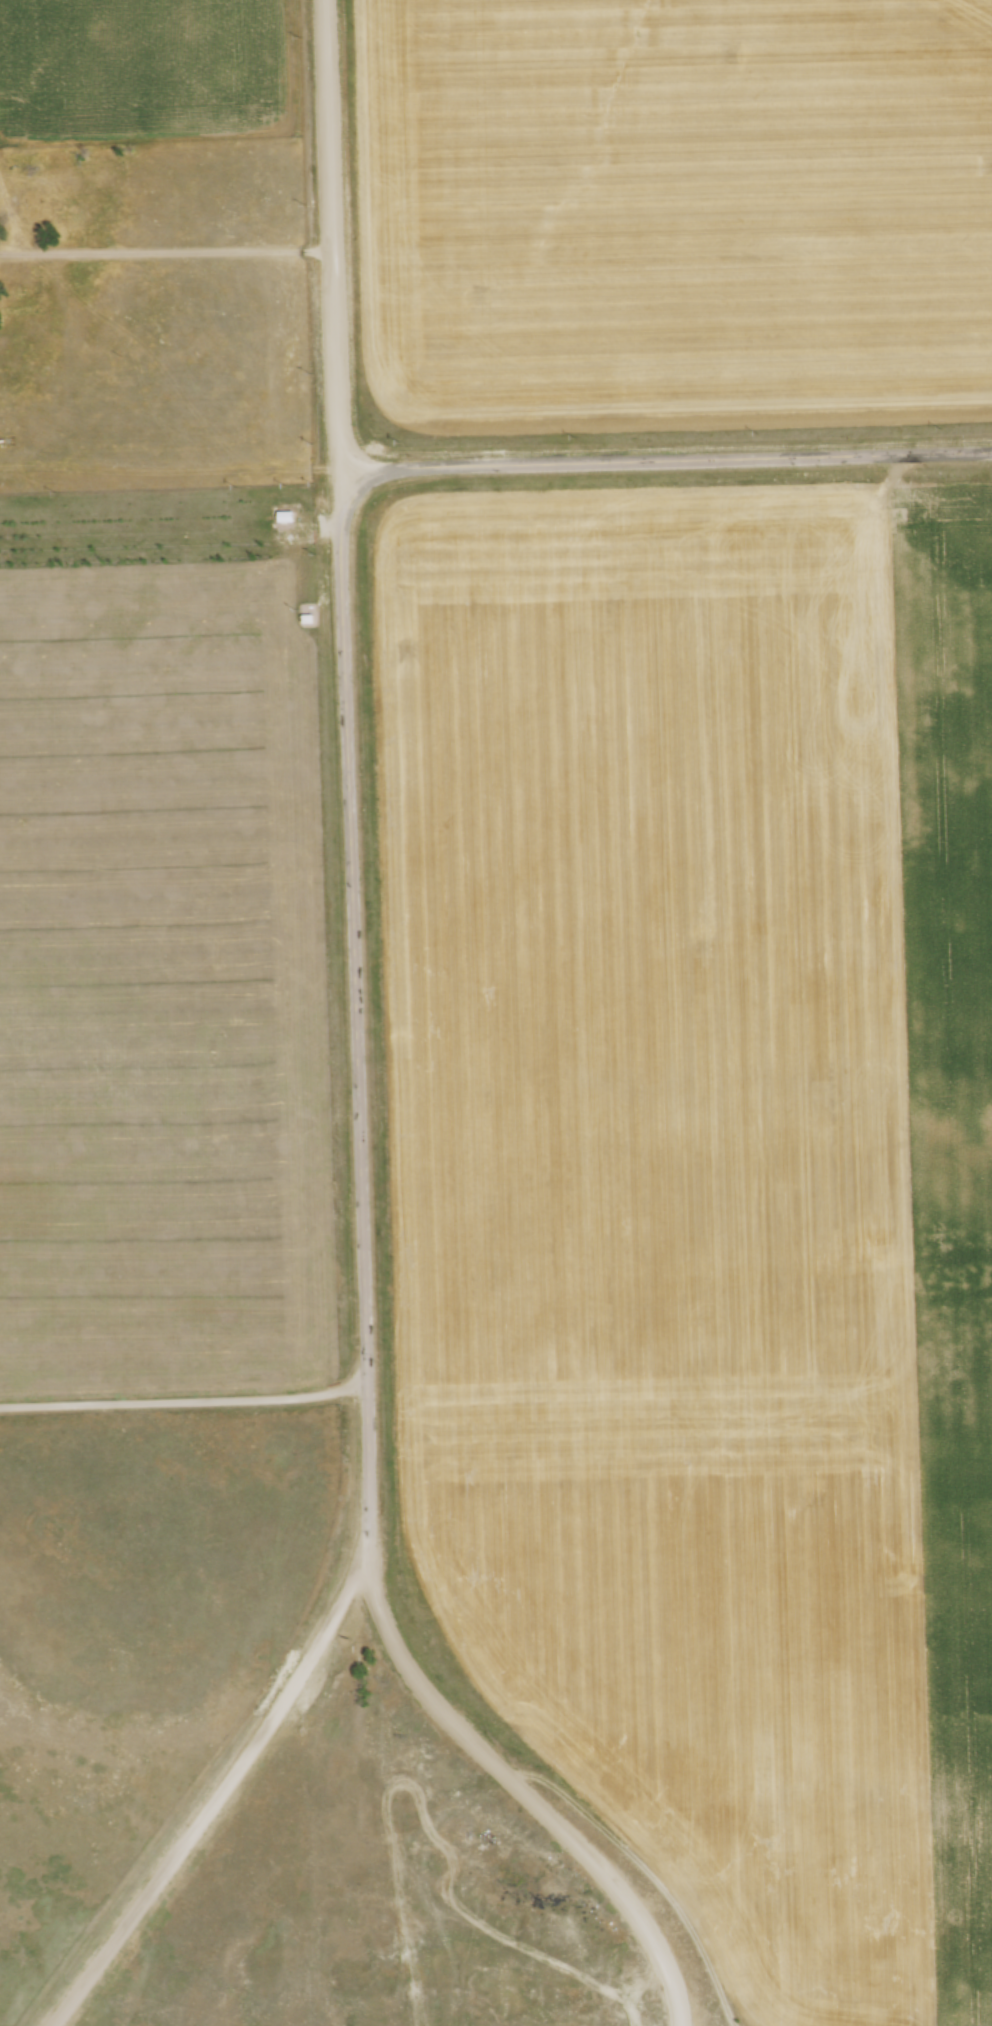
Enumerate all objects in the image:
road: (330, 246)
road: (165, 252)
road: (670, 460)
building: (285, 517)
road: (354, 1022)
road: (183, 1402)
road: (522, 1792)
road: (216, 1796)

